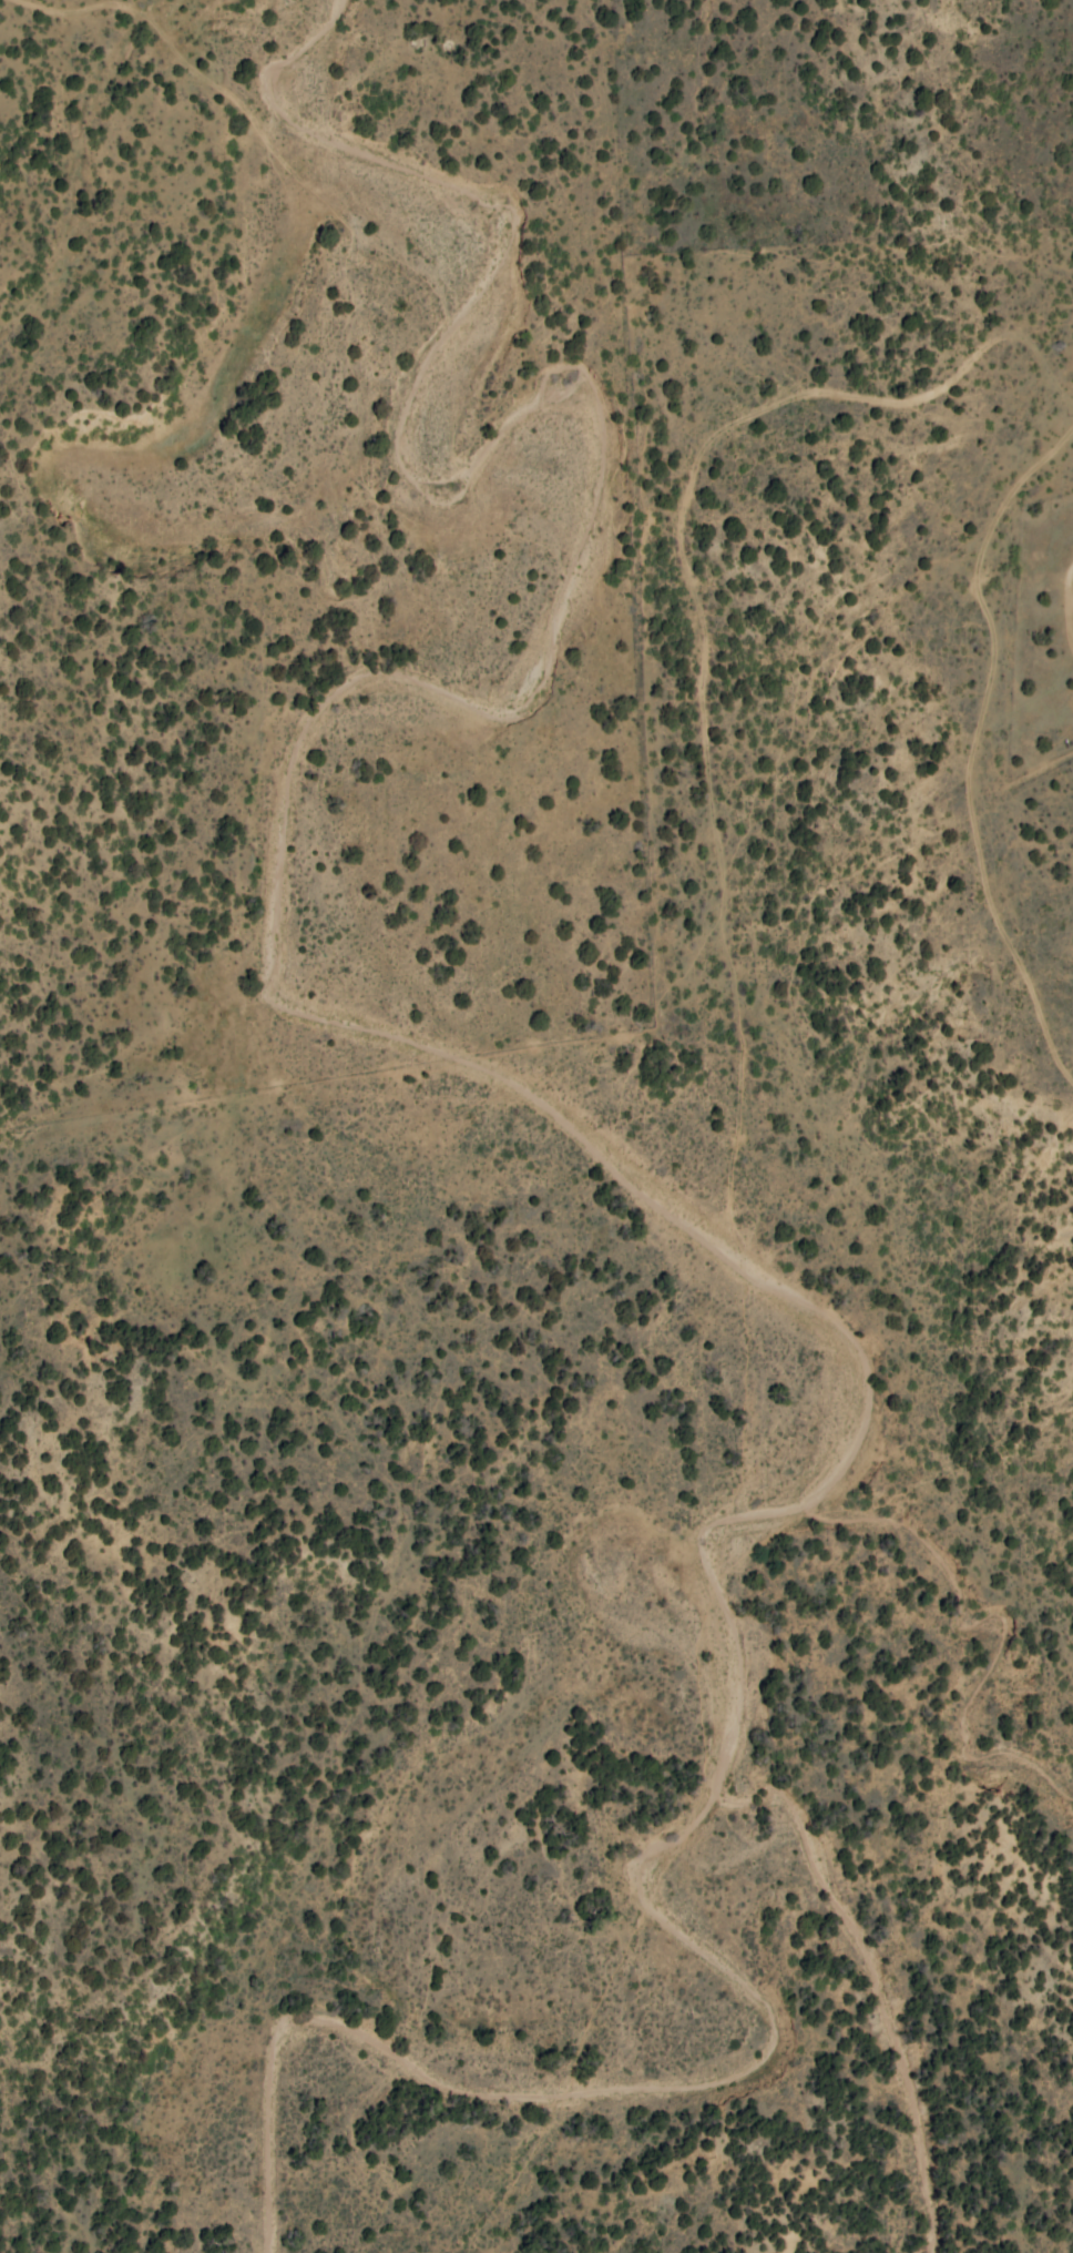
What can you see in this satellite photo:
road: (153, 19)

